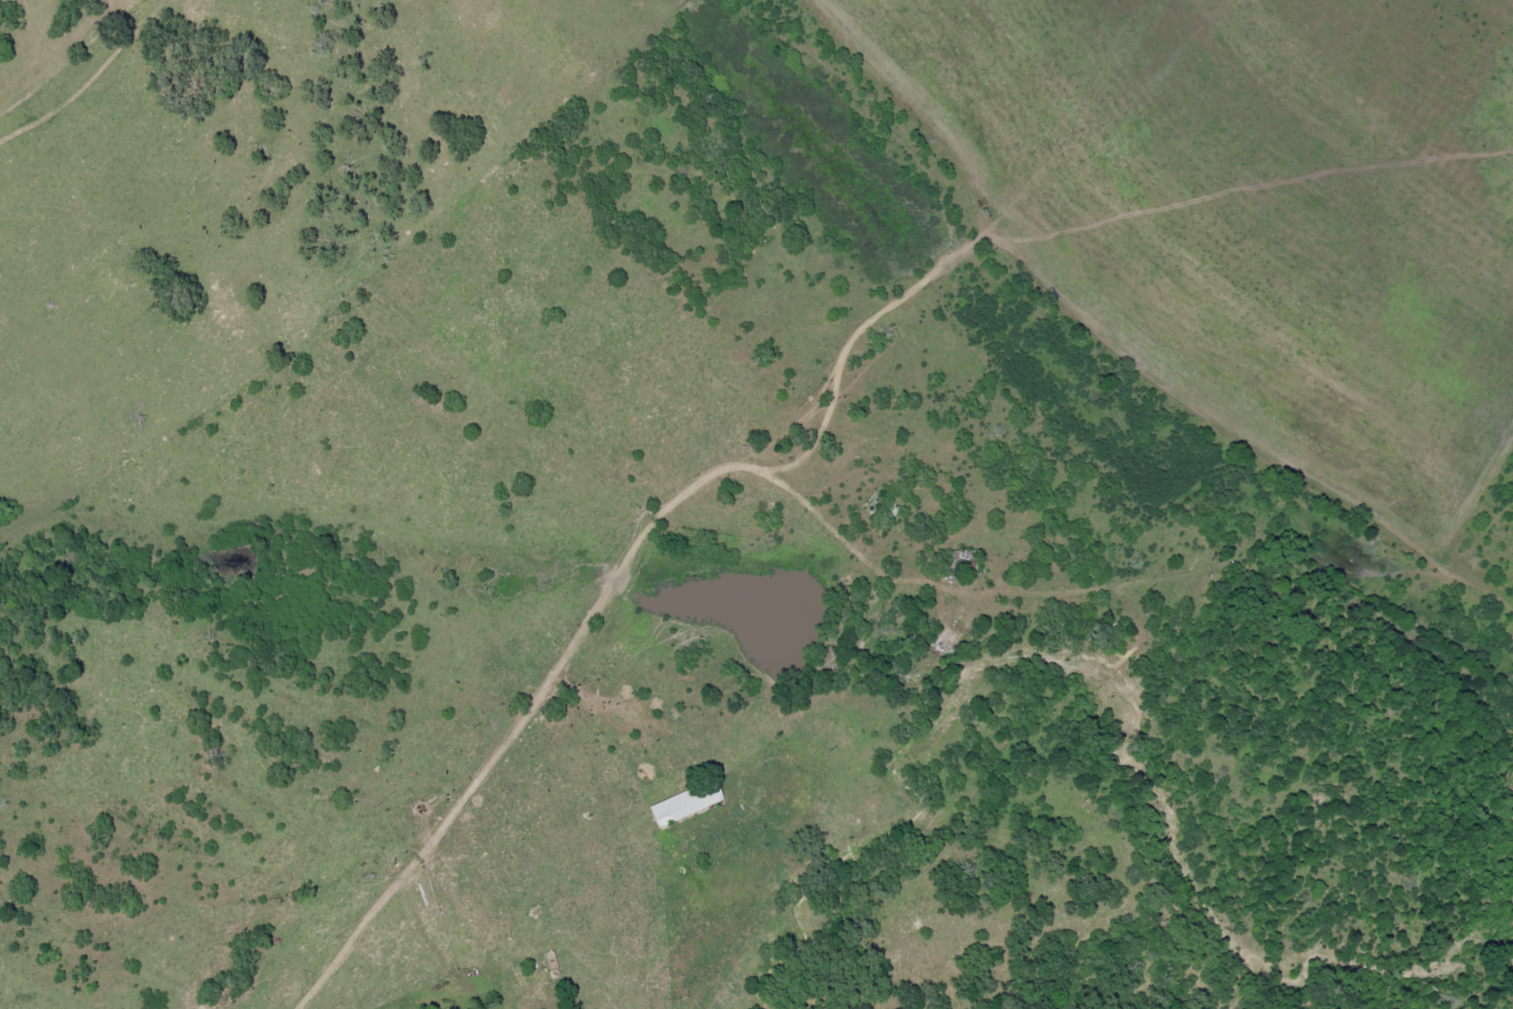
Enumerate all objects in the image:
road: (89, 76)
road: (899, 438)
road: (725, 473)
building: (684, 802)

